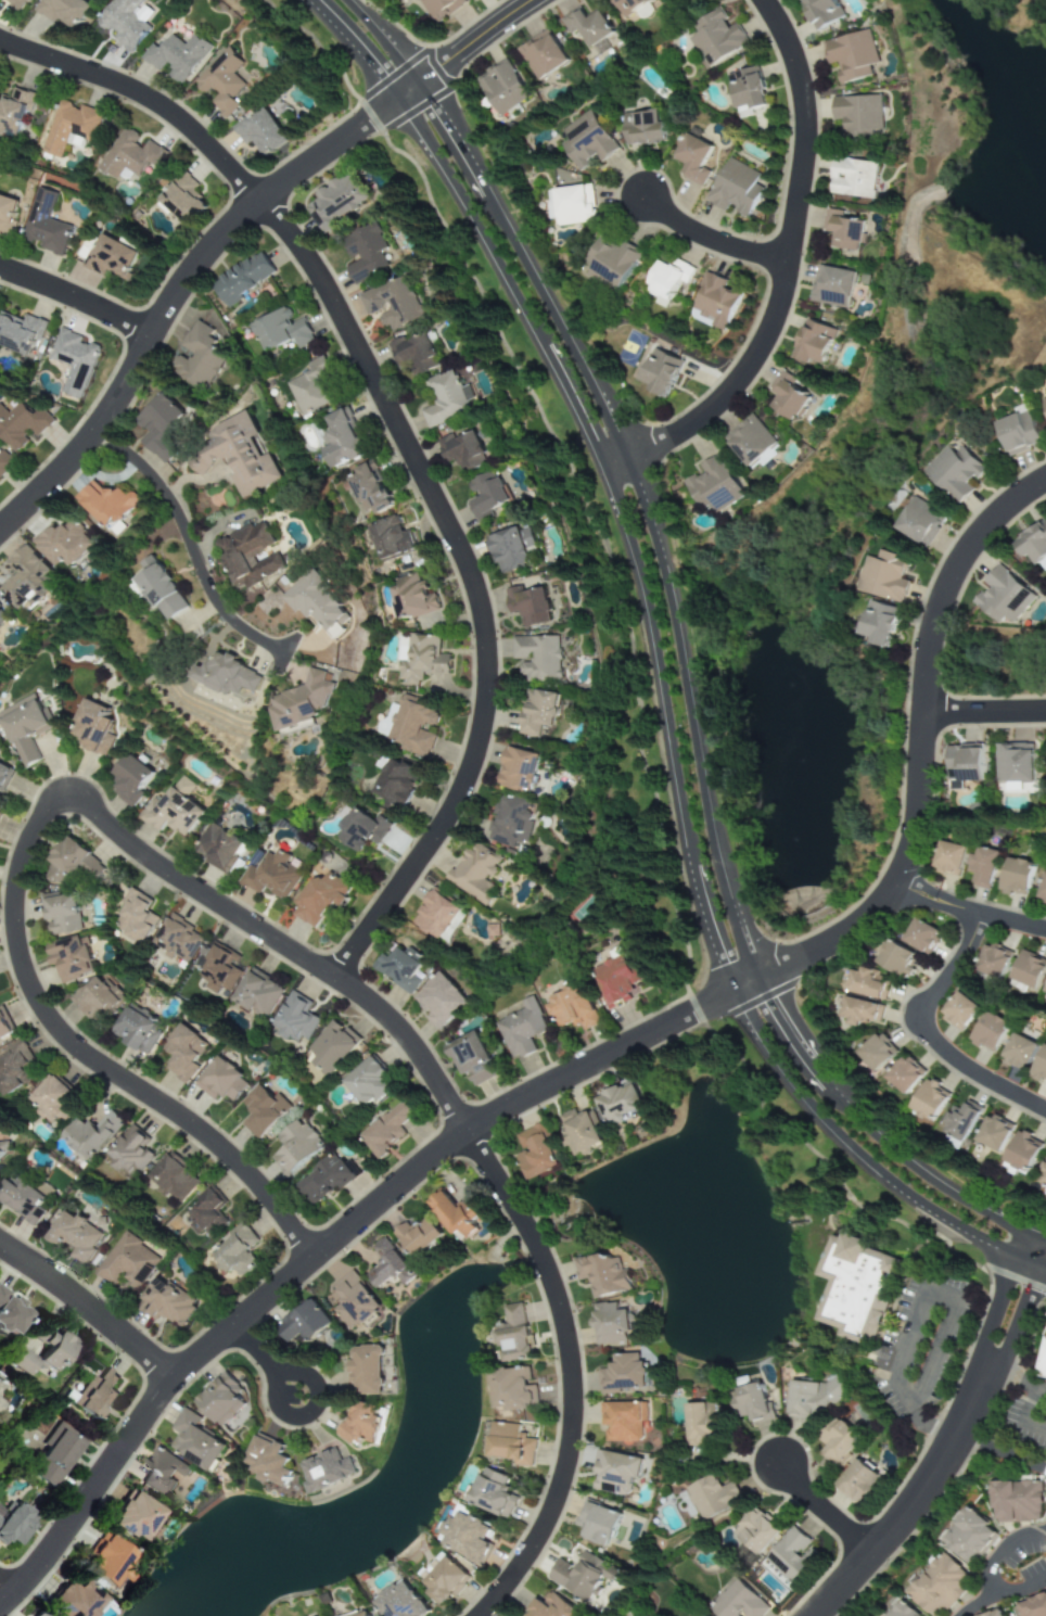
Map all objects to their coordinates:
building: (13, 2)
building: (630, 5)
building: (441, 8)
building: (63, 12)
building: (822, 12)
building: (122, 22)
building: (716, 38)
road: (390, 39)
road: (356, 48)
road: (468, 50)
building: (543, 54)
building: (852, 55)
building: (178, 56)
building: (220, 82)
building: (502, 87)
building: (748, 89)
building: (13, 113)
building: (859, 116)
building: (68, 128)
building: (643, 128)
building: (259, 135)
building: (587, 141)
building: (130, 154)
building: (693, 158)
building: (854, 178)
building: (738, 188)
building: (180, 201)
building: (335, 202)
building: (5, 212)
building: (44, 227)
building: (843, 230)
road: (713, 241)
road: (396, 249)
building: (366, 252)
building: (106, 258)
building: (613, 262)
road: (344, 266)
road: (788, 275)
building: (240, 279)
building: (669, 280)
road: (335, 285)
building: (832, 287)
road: (176, 296)
road: (78, 301)
building: (716, 302)
building: (390, 304)
building: (278, 332)
building: (18, 334)
building: (814, 342)
building: (414, 353)
building: (200, 355)
building: (73, 362)
building: (661, 372)
building: (308, 389)
building: (788, 396)
building: (442, 399)
building: (1045, 402)
building: (21, 427)
building: (164, 429)
building: (1019, 433)
building: (339, 441)
building: (751, 441)
road: (405, 443)
building: (465, 454)
building: (235, 456)
building: (4, 462)
building: (955, 472)
building: (715, 484)
building: (366, 491)
building: (486, 495)
building: (105, 504)
building: (919, 523)
building: (390, 540)
building: (1033, 543)
building: (59, 544)
road: (192, 547)
building: (511, 549)
building: (252, 556)
building: (883, 575)
building: (22, 578)
building: (158, 593)
building: (1003, 596)
building: (410, 597)
building: (320, 602)
building: (527, 606)
building: (0, 613)
building: (880, 623)
building: (536, 658)
building: (419, 659)
building: (228, 677)
road: (693, 700)
building: (302, 701)
building: (536, 712)
road: (985, 714)
building: (410, 726)
building: (90, 727)
building: (24, 730)
road: (668, 735)
building: (1015, 762)
building: (965, 765)
building: (515, 771)
building: (3, 776)
building: (129, 780)
building: (392, 785)
building: (173, 809)
building: (0, 815)
building: (506, 823)
road: (41, 825)
building: (359, 830)
building: (217, 849)
building: (948, 857)
building: (69, 864)
building: (982, 866)
building: (272, 874)
building: (472, 874)
building: (1016, 877)
building: (1043, 889)
building: (319, 899)
road: (971, 912)
building: (60, 915)
building: (436, 918)
building: (137, 919)
building: (492, 930)
building: (920, 938)
building: (175, 942)
building: (896, 960)
building: (68, 962)
building: (992, 963)
building: (219, 969)
building: (399, 969)
building: (1028, 970)
building: (615, 980)
building: (867, 984)
building: (1045, 993)
building: (255, 995)
building: (97, 1002)
building: (437, 1003)
building: (567, 1008)
building: (958, 1011)
building: (860, 1013)
building: (295, 1020)
building: (3, 1030)
building: (520, 1030)
building: (135, 1031)
road: (932, 1032)
building: (988, 1033)
building: (329, 1049)
building: (180, 1053)
building: (1017, 1053)
building: (875, 1054)
building: (469, 1057)
building: (1039, 1066)
road: (589, 1067)
building: (13, 1070)
building: (903, 1078)
building: (220, 1082)
building: (367, 1084)
building: (52, 1102)
building: (929, 1102)
building: (616, 1104)
building: (259, 1111)
building: (962, 1120)
building: (386, 1130)
building: (91, 1135)
building: (579, 1135)
building: (992, 1135)
building: (293, 1147)
building: (1, 1151)
building: (130, 1153)
building: (534, 1153)
building: (1022, 1154)
building: (1043, 1175)
building: (170, 1181)
building: (321, 1182)
building: (21, 1201)
building: (205, 1214)
building: (452, 1216)
building: (72, 1234)
building: (417, 1236)
building: (235, 1256)
building: (125, 1262)
building: (387, 1267)
building: (601, 1273)
building: (854, 1287)
road: (939, 1295)
building: (165, 1302)
building: (353, 1303)
road: (89, 1309)
building: (10, 1313)
building: (308, 1322)
building: (609, 1323)
building: (513, 1333)
building: (37, 1351)
road: (268, 1361)
building: (1043, 1361)
building: (366, 1370)
building: (622, 1373)
road: (571, 1375)
road: (1018, 1382)
building: (0, 1386)
building: (511, 1389)
building: (97, 1395)
building: (220, 1397)
building: (809, 1398)
building: (749, 1403)
road: (1021, 1418)
building: (621, 1422)
building: (701, 1423)
building: (361, 1425)
road: (933, 1427)
building: (834, 1440)
road: (955, 1441)
building: (195, 1442)
building: (508, 1443)
road: (1002, 1454)
building: (51, 1460)
building: (265, 1461)
building: (326, 1468)
building: (161, 1472)
building: (613, 1474)
building: (857, 1484)
building: (489, 1494)
building: (710, 1497)
building: (1016, 1501)
road: (825, 1513)
building: (129, 1517)
building: (13, 1525)
building: (597, 1525)
building: (752, 1531)
building: (464, 1537)
building: (969, 1537)
road: (1002, 1554)
building: (791, 1557)
building: (104, 1563)
building: (575, 1577)
building: (442, 1581)
building: (939, 1586)
road: (8, 1589)
road: (1016, 1593)
building: (69, 1600)
building: (397, 1601)
building: (736, 1602)
building: (1032, 1606)
building: (549, 1607)
road: (974, 1608)
building: (901, 1611)
building: (995, 1613)
building: (360, 1614)
building: (37, 1615)

